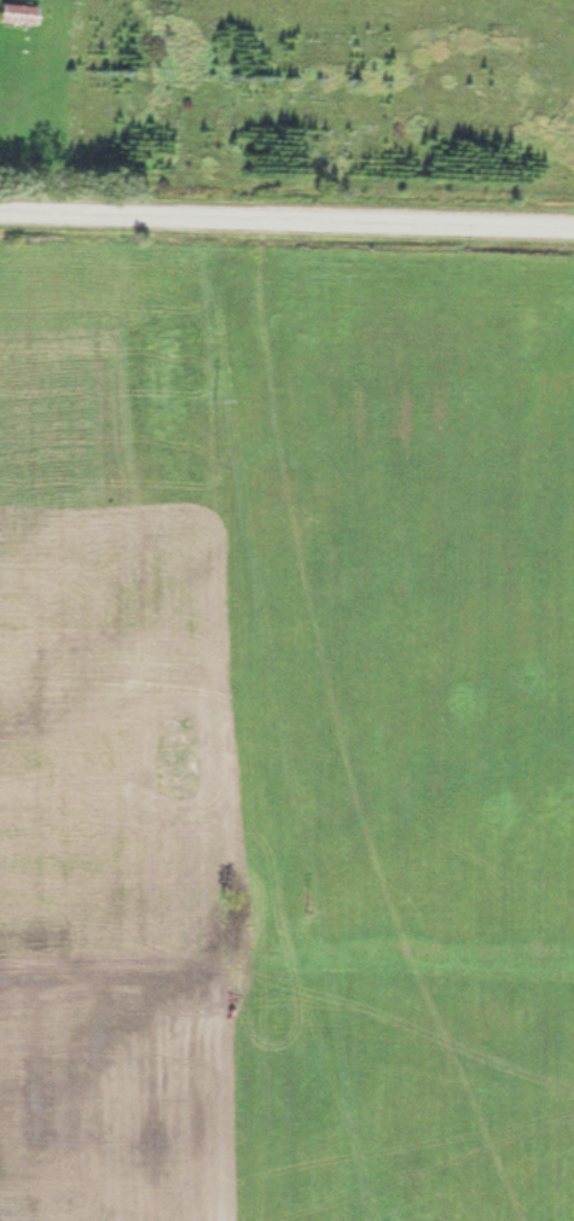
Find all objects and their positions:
building: (15, 10)
road: (286, 216)

